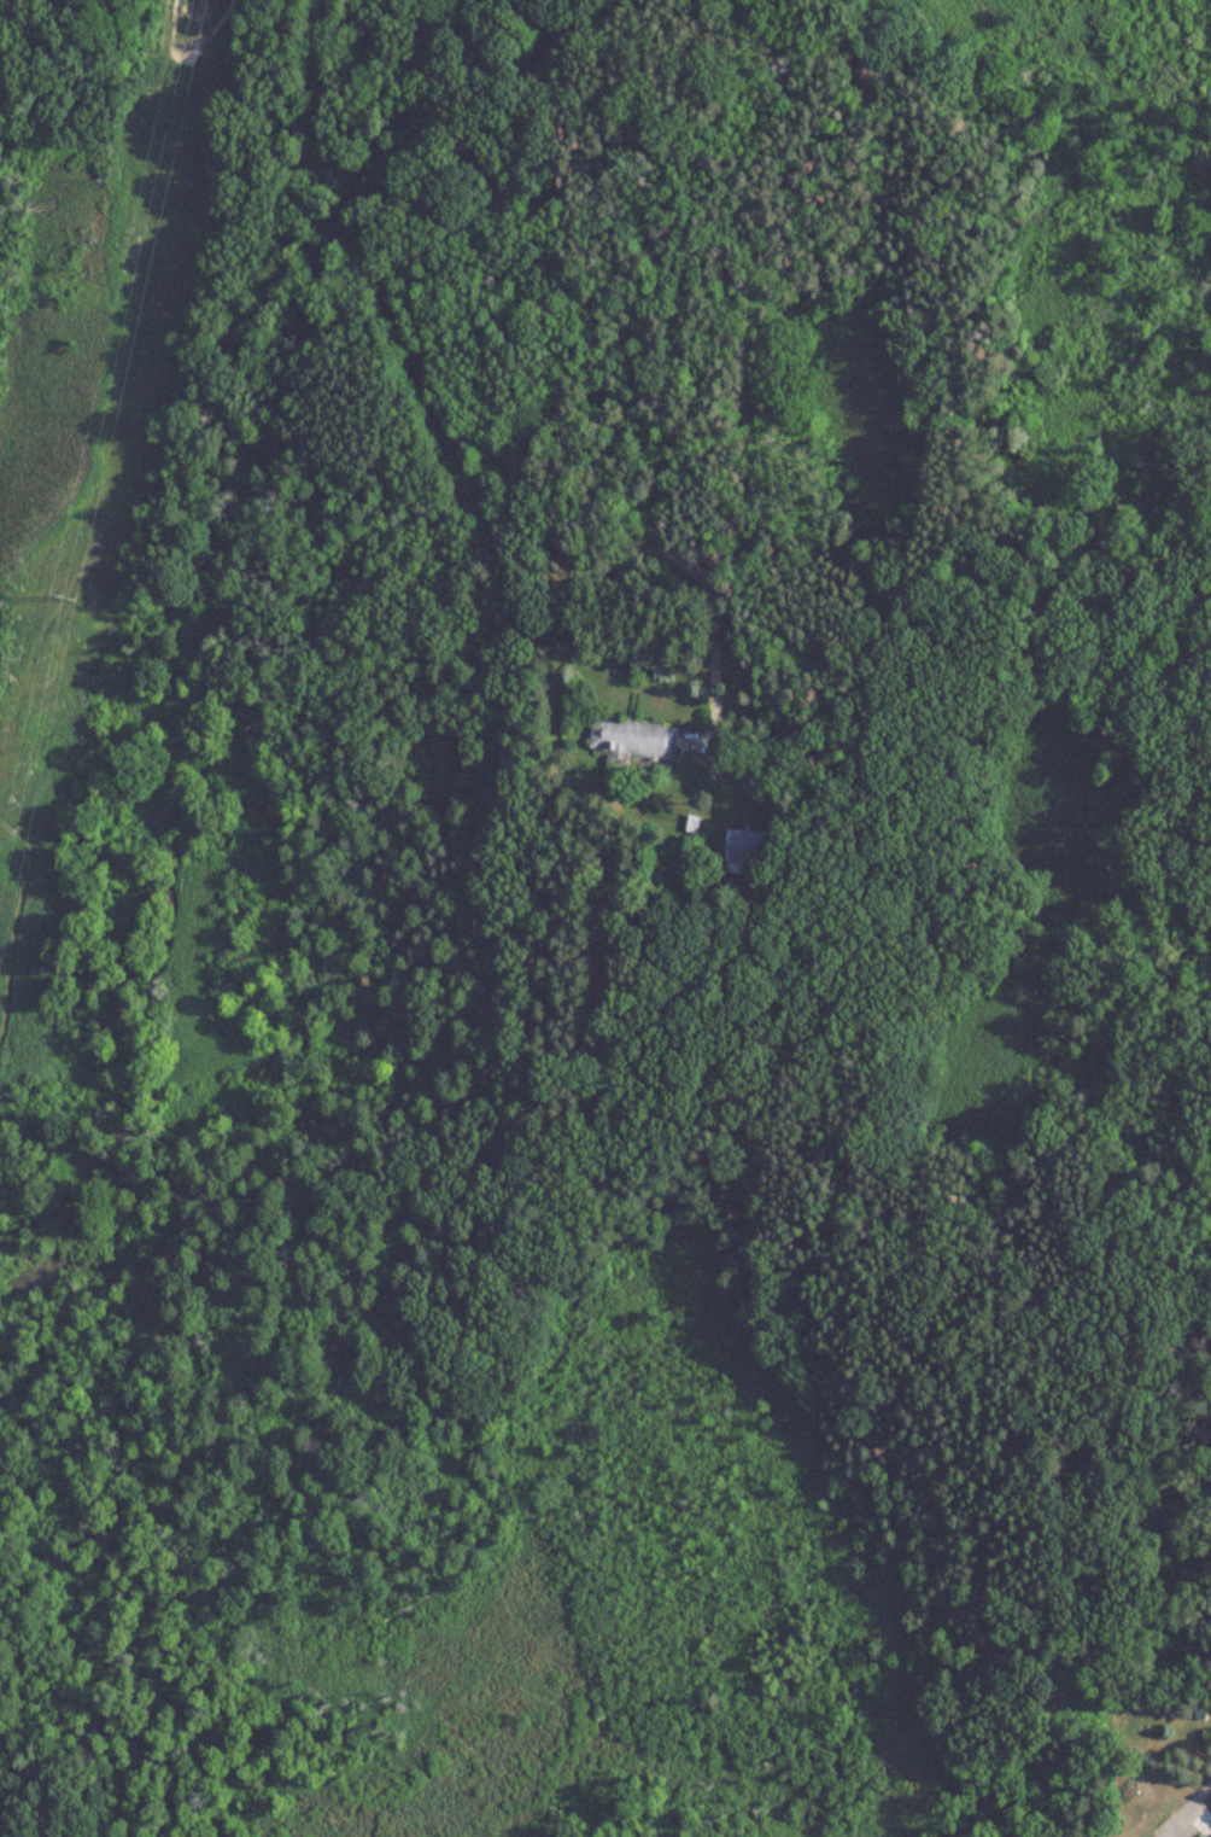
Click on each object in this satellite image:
power tower: (70, 590)
building: (637, 739)
building: (753, 850)

